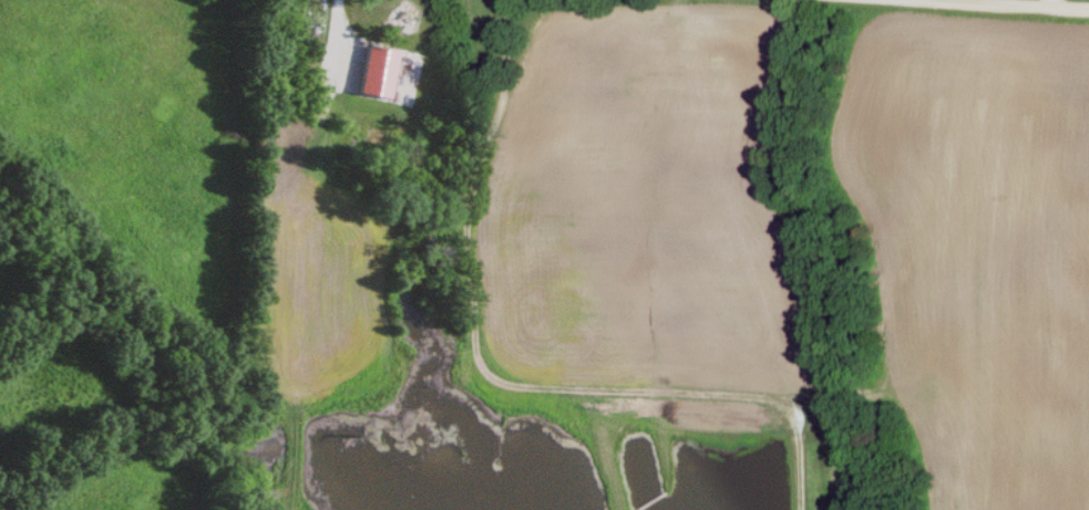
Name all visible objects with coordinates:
road: (1050, 0)
road: (1054, 1)
building: (411, 15)

